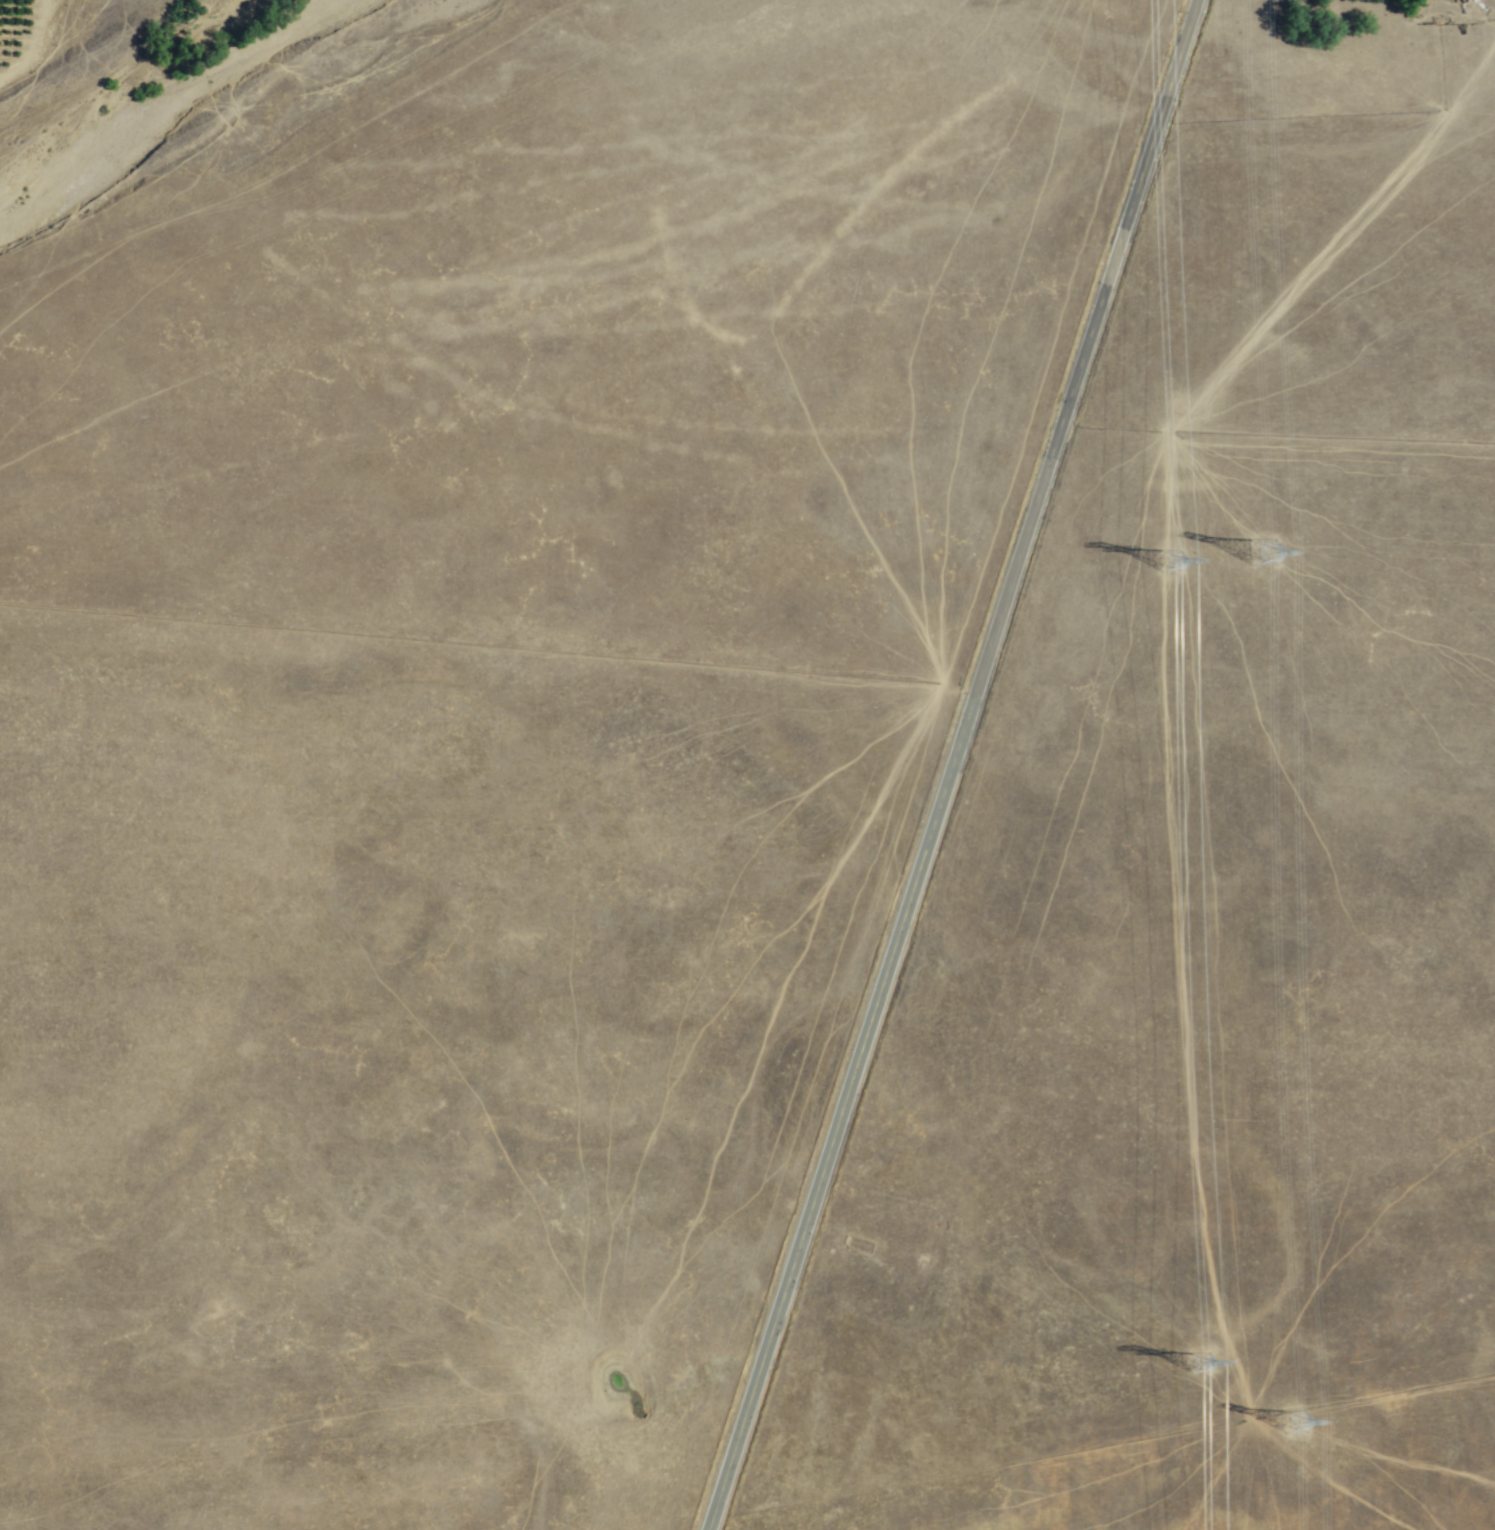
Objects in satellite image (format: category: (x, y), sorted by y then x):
river: (170, 104)
road: (294, 158)
power tower: (1256, 552)
power tower: (1170, 559)
road: (948, 764)
road: (1167, 773)
power tower: (1203, 1372)
power tower: (1304, 1418)

